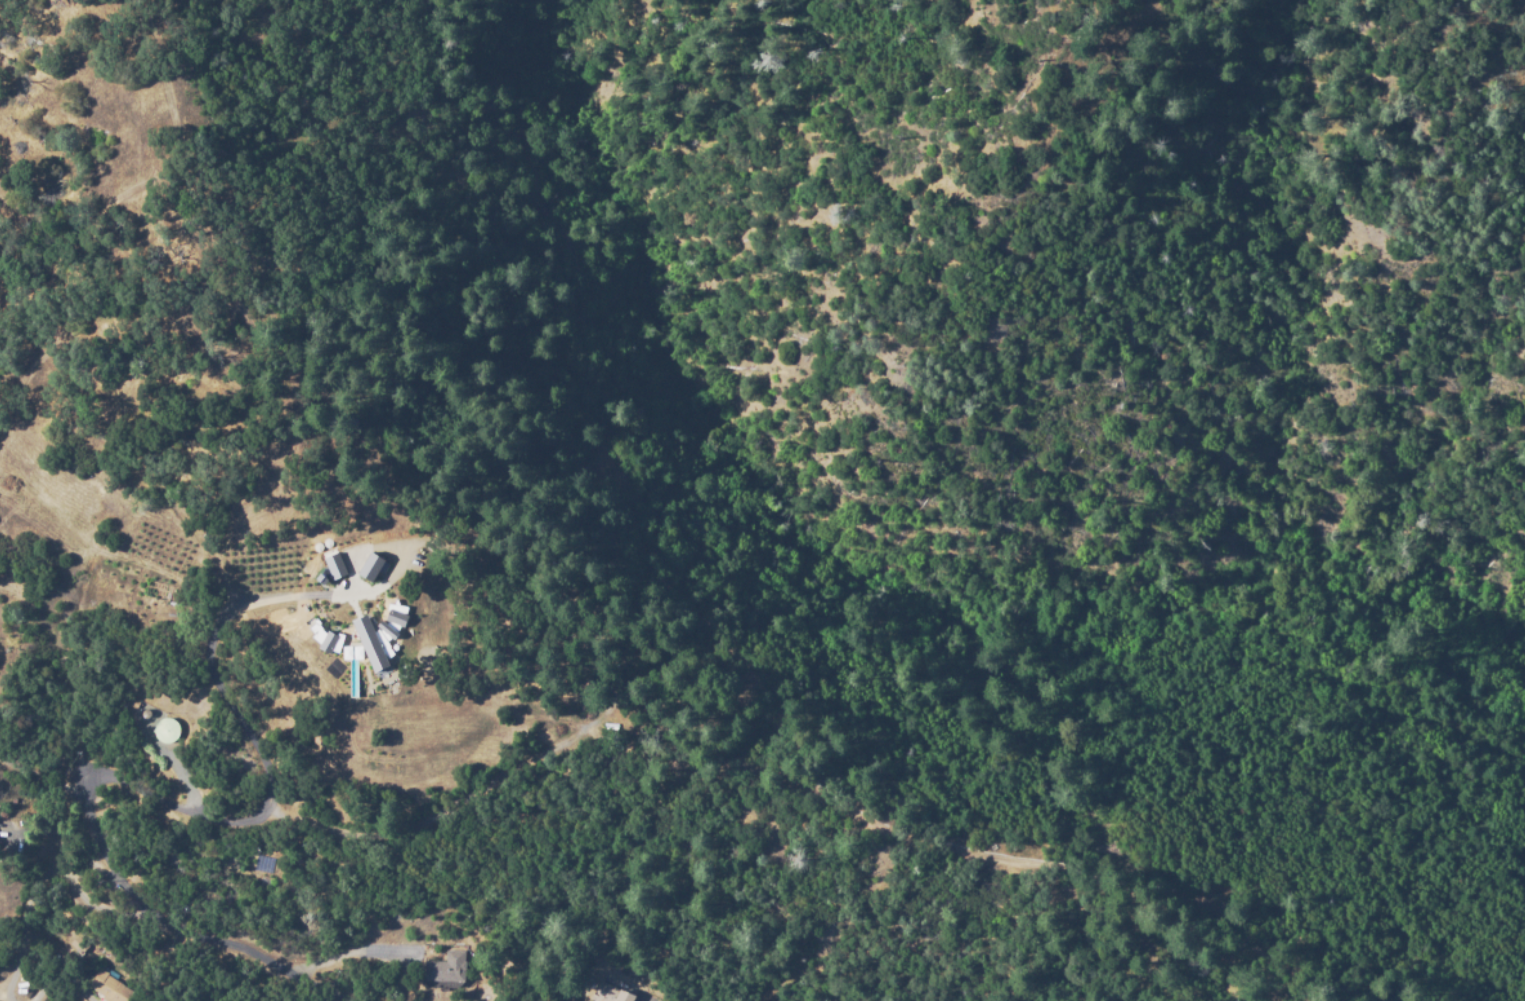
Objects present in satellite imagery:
building: (373, 562)
building: (336, 563)
building: (373, 640)
building: (331, 641)
building: (134, 701)
building: (168, 726)
road: (180, 927)
building: (79, 942)
building: (448, 967)
building: (111, 987)
building: (609, 993)

